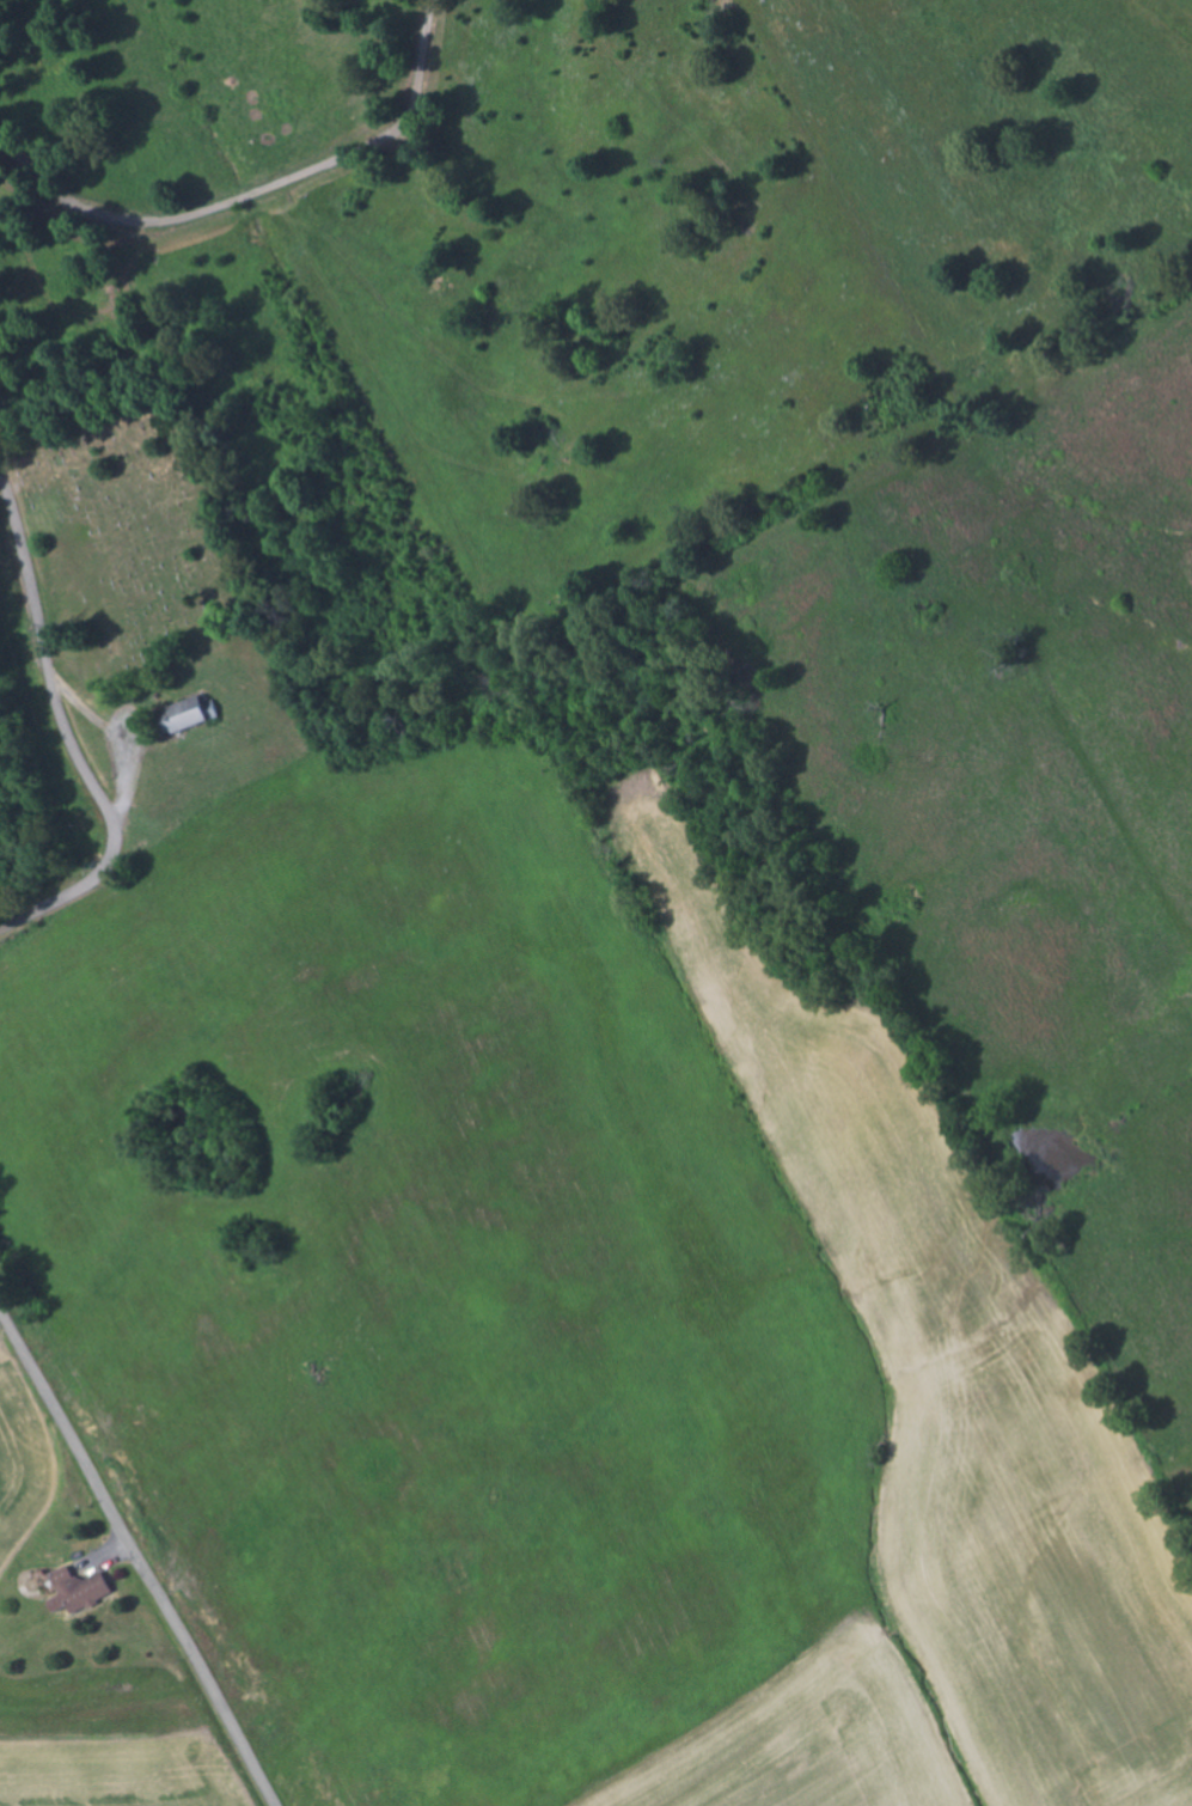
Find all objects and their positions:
road: (256, 191)
park: (126, 550)
building: (192, 714)
road: (67, 737)
road: (136, 1560)
building: (84, 1590)
building: (60, 1604)
road: (412, 1684)

